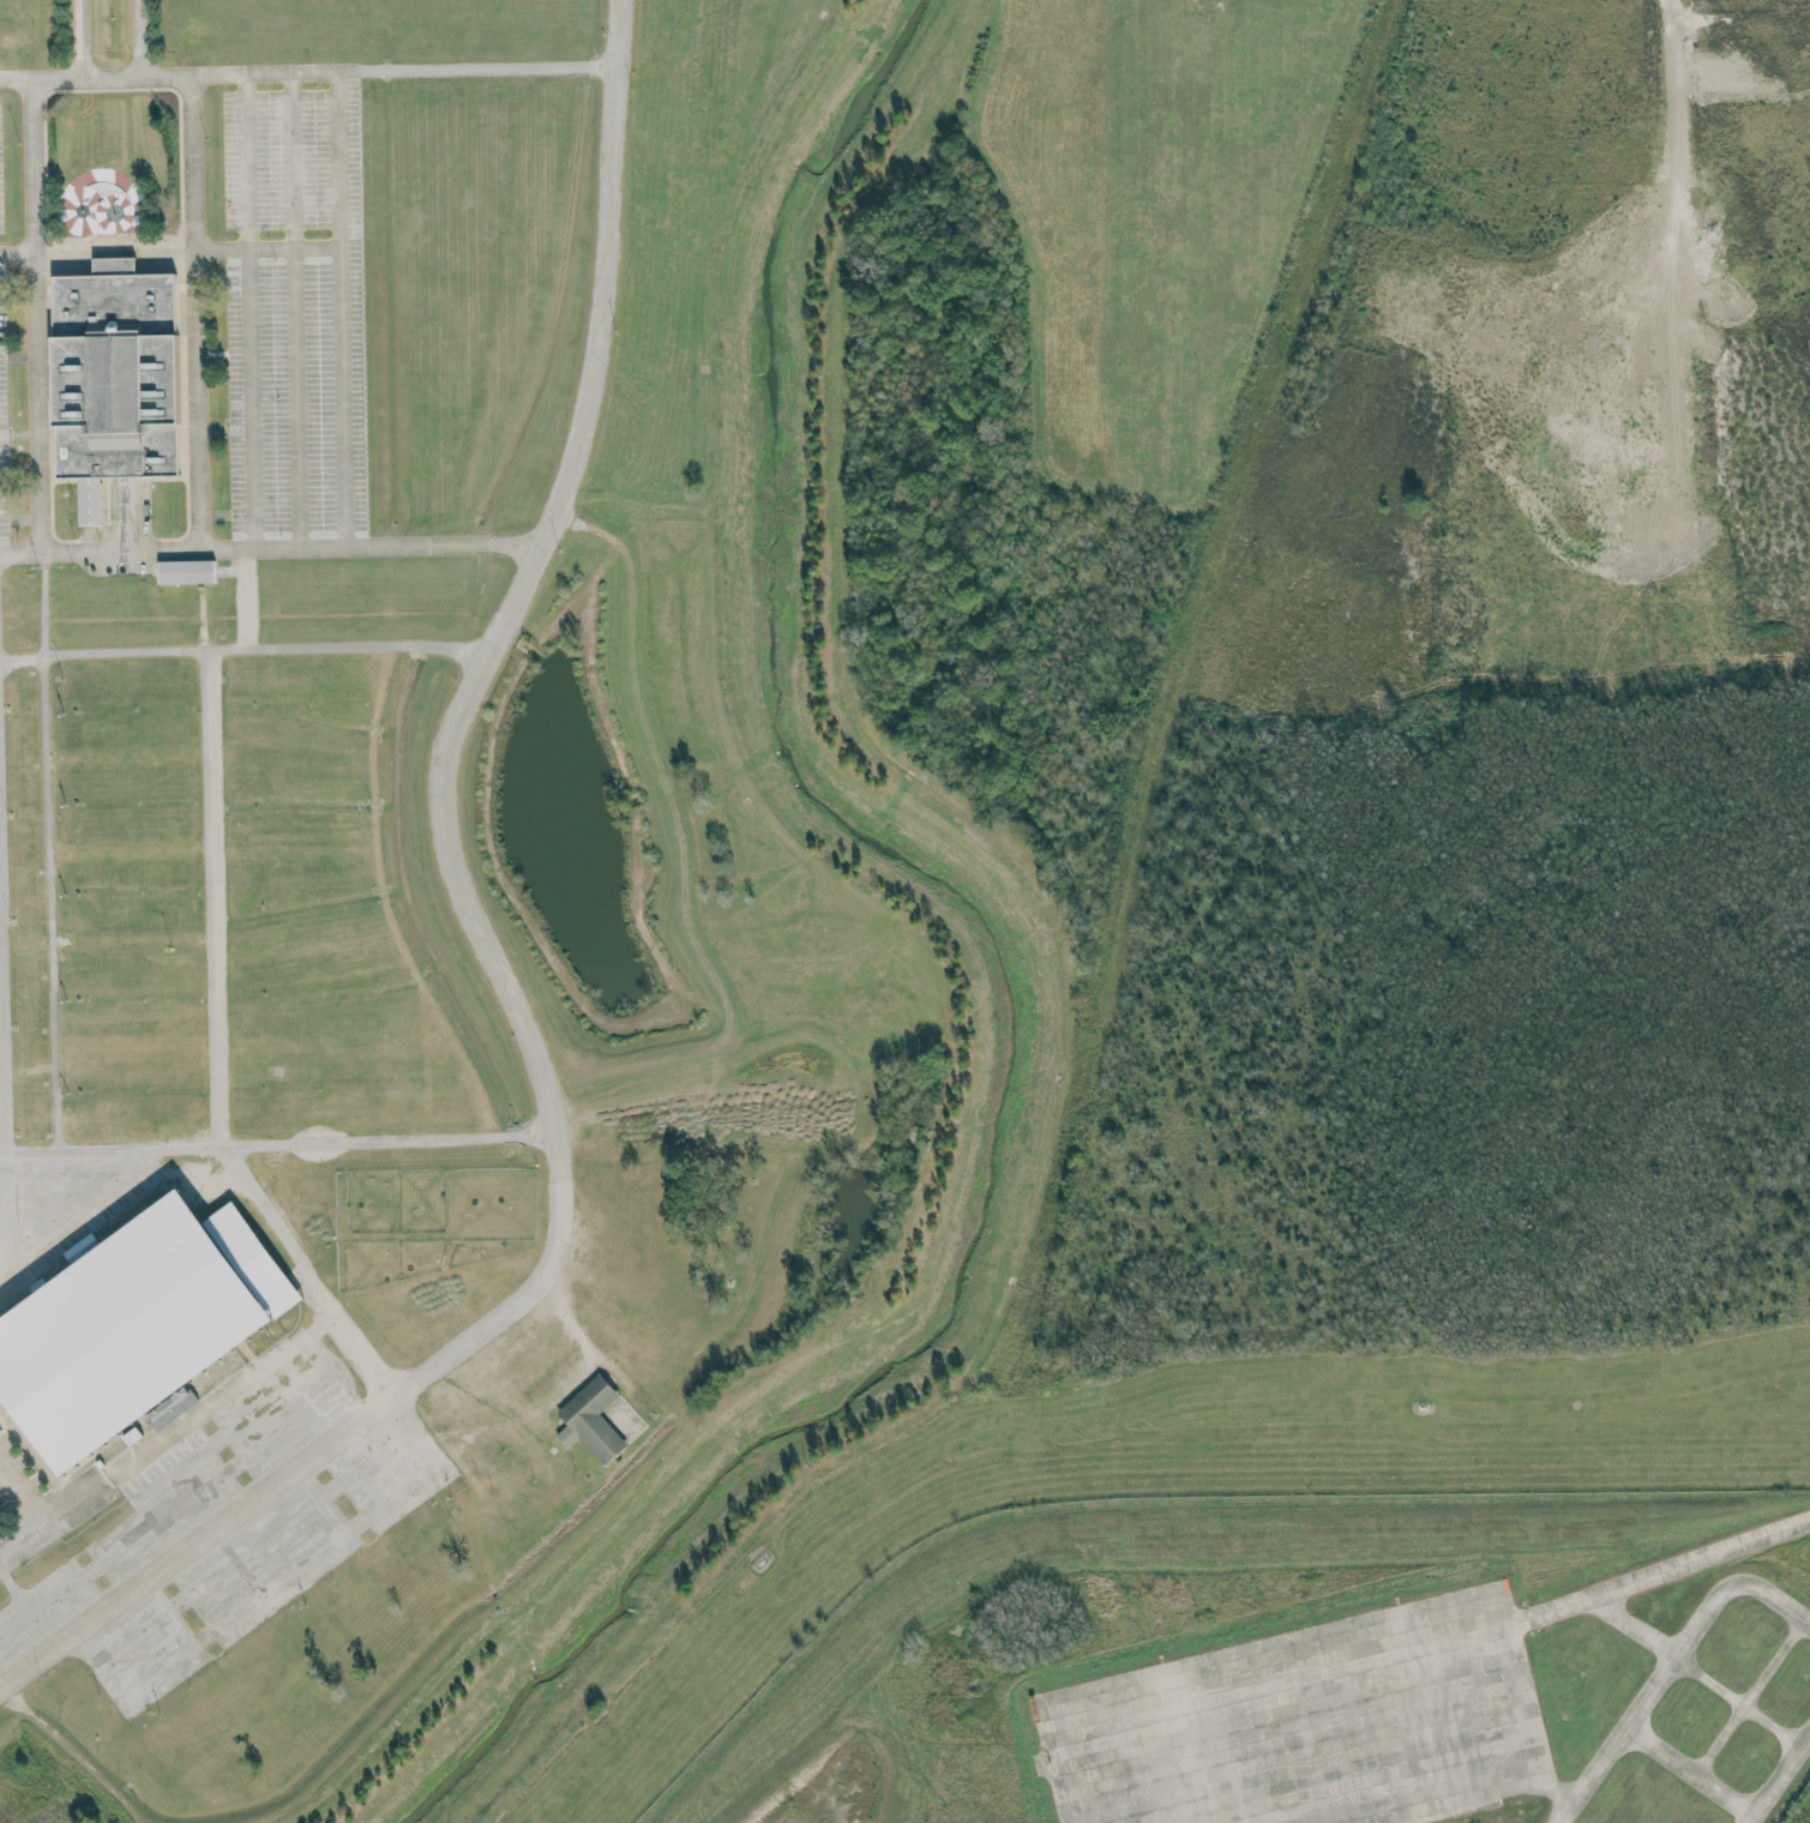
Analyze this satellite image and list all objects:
road: (137, 36)
road: (79, 37)
road: (307, 74)
road: (266, 246)
road: (17, 252)
parking lot: (299, 283)
road: (343, 308)
road: (191, 311)
road: (249, 311)
road: (293, 311)
road: (36, 314)
building: (112, 360)
parking lot: (1, 416)
road: (367, 543)
road: (98, 550)
building: (186, 571)
road: (510, 601)
road: (347, 644)
road: (103, 657)
road: (47, 853)
road: (210, 900)
road: (277, 1142)
road: (92, 1214)
road: (8, 1239)
road: (308, 1271)
road: (517, 1311)
building: (136, 1326)
building: (590, 1420)
road: (235, 1428)
road: (214, 1480)
road: (40, 1512)
road: (198, 1544)
road: (1643, 1740)

